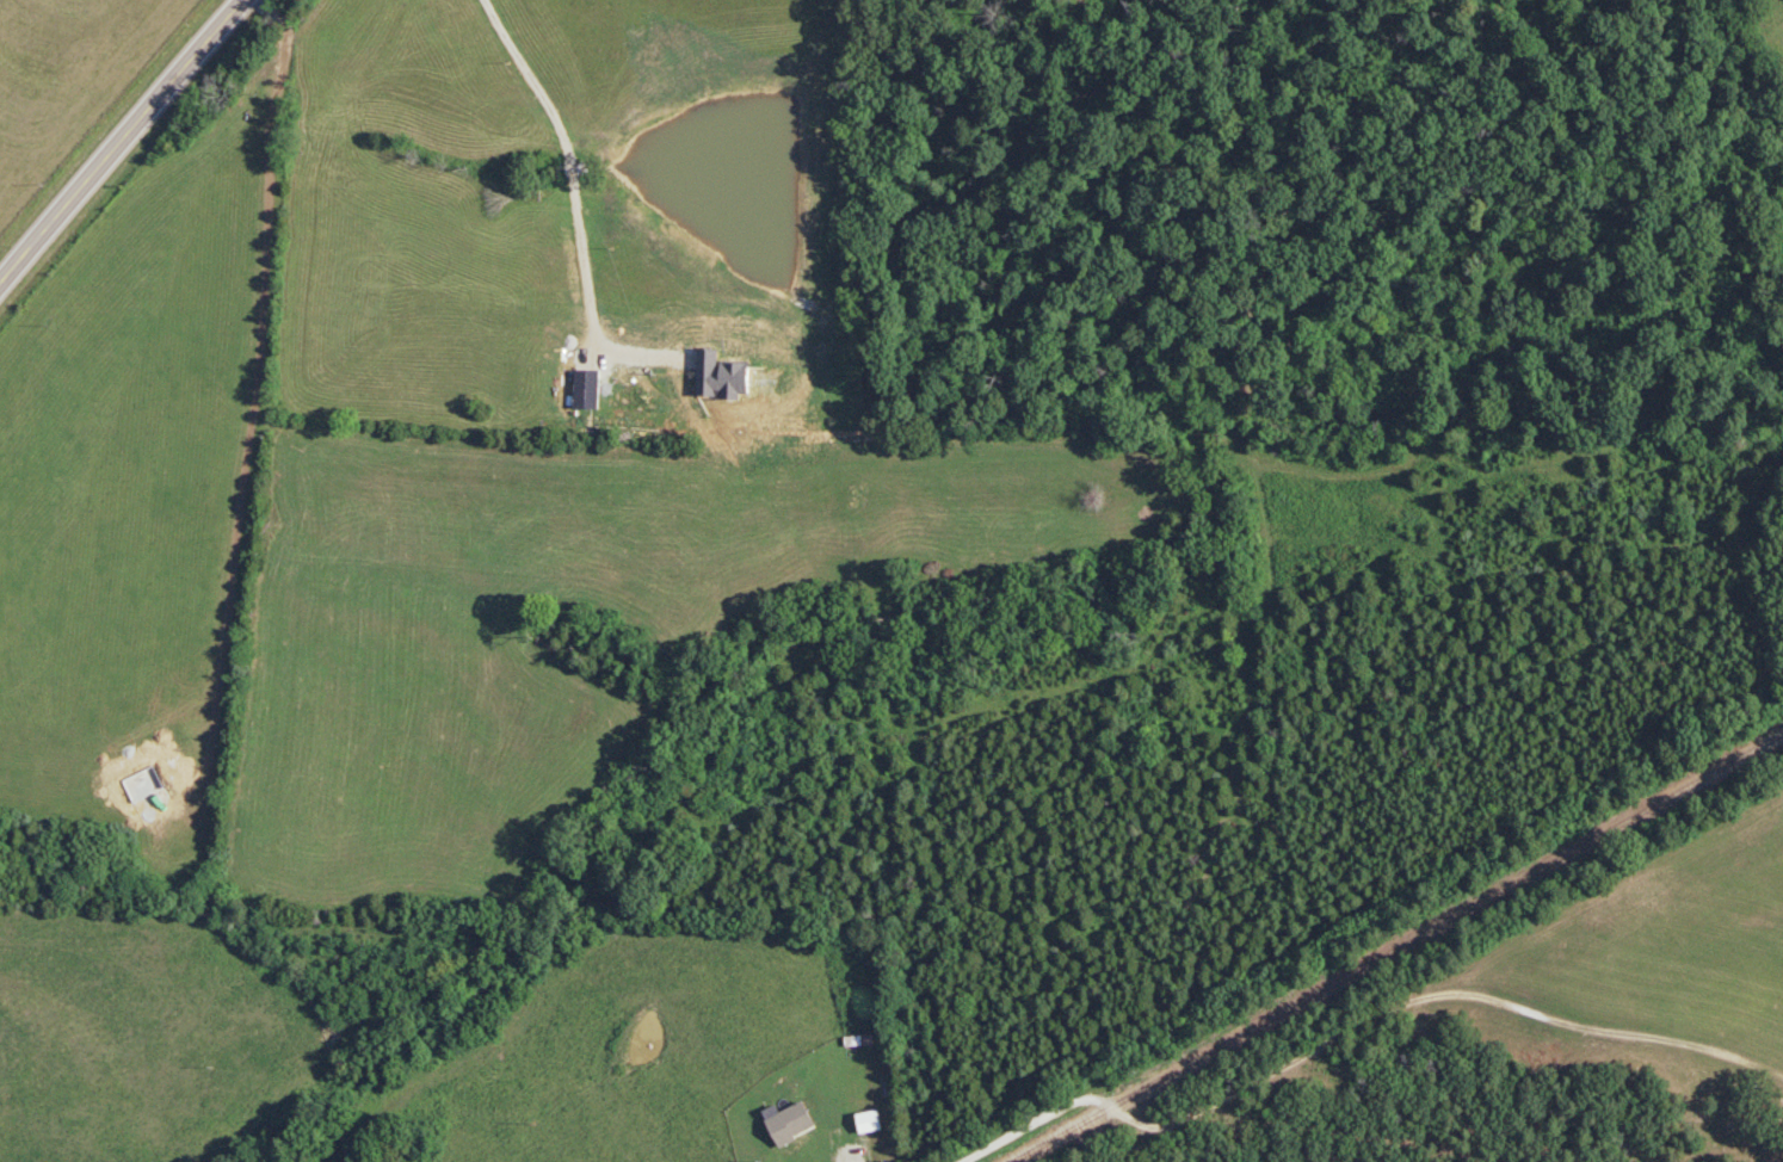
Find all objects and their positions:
road: (121, 141)
railway: (1386, 945)

